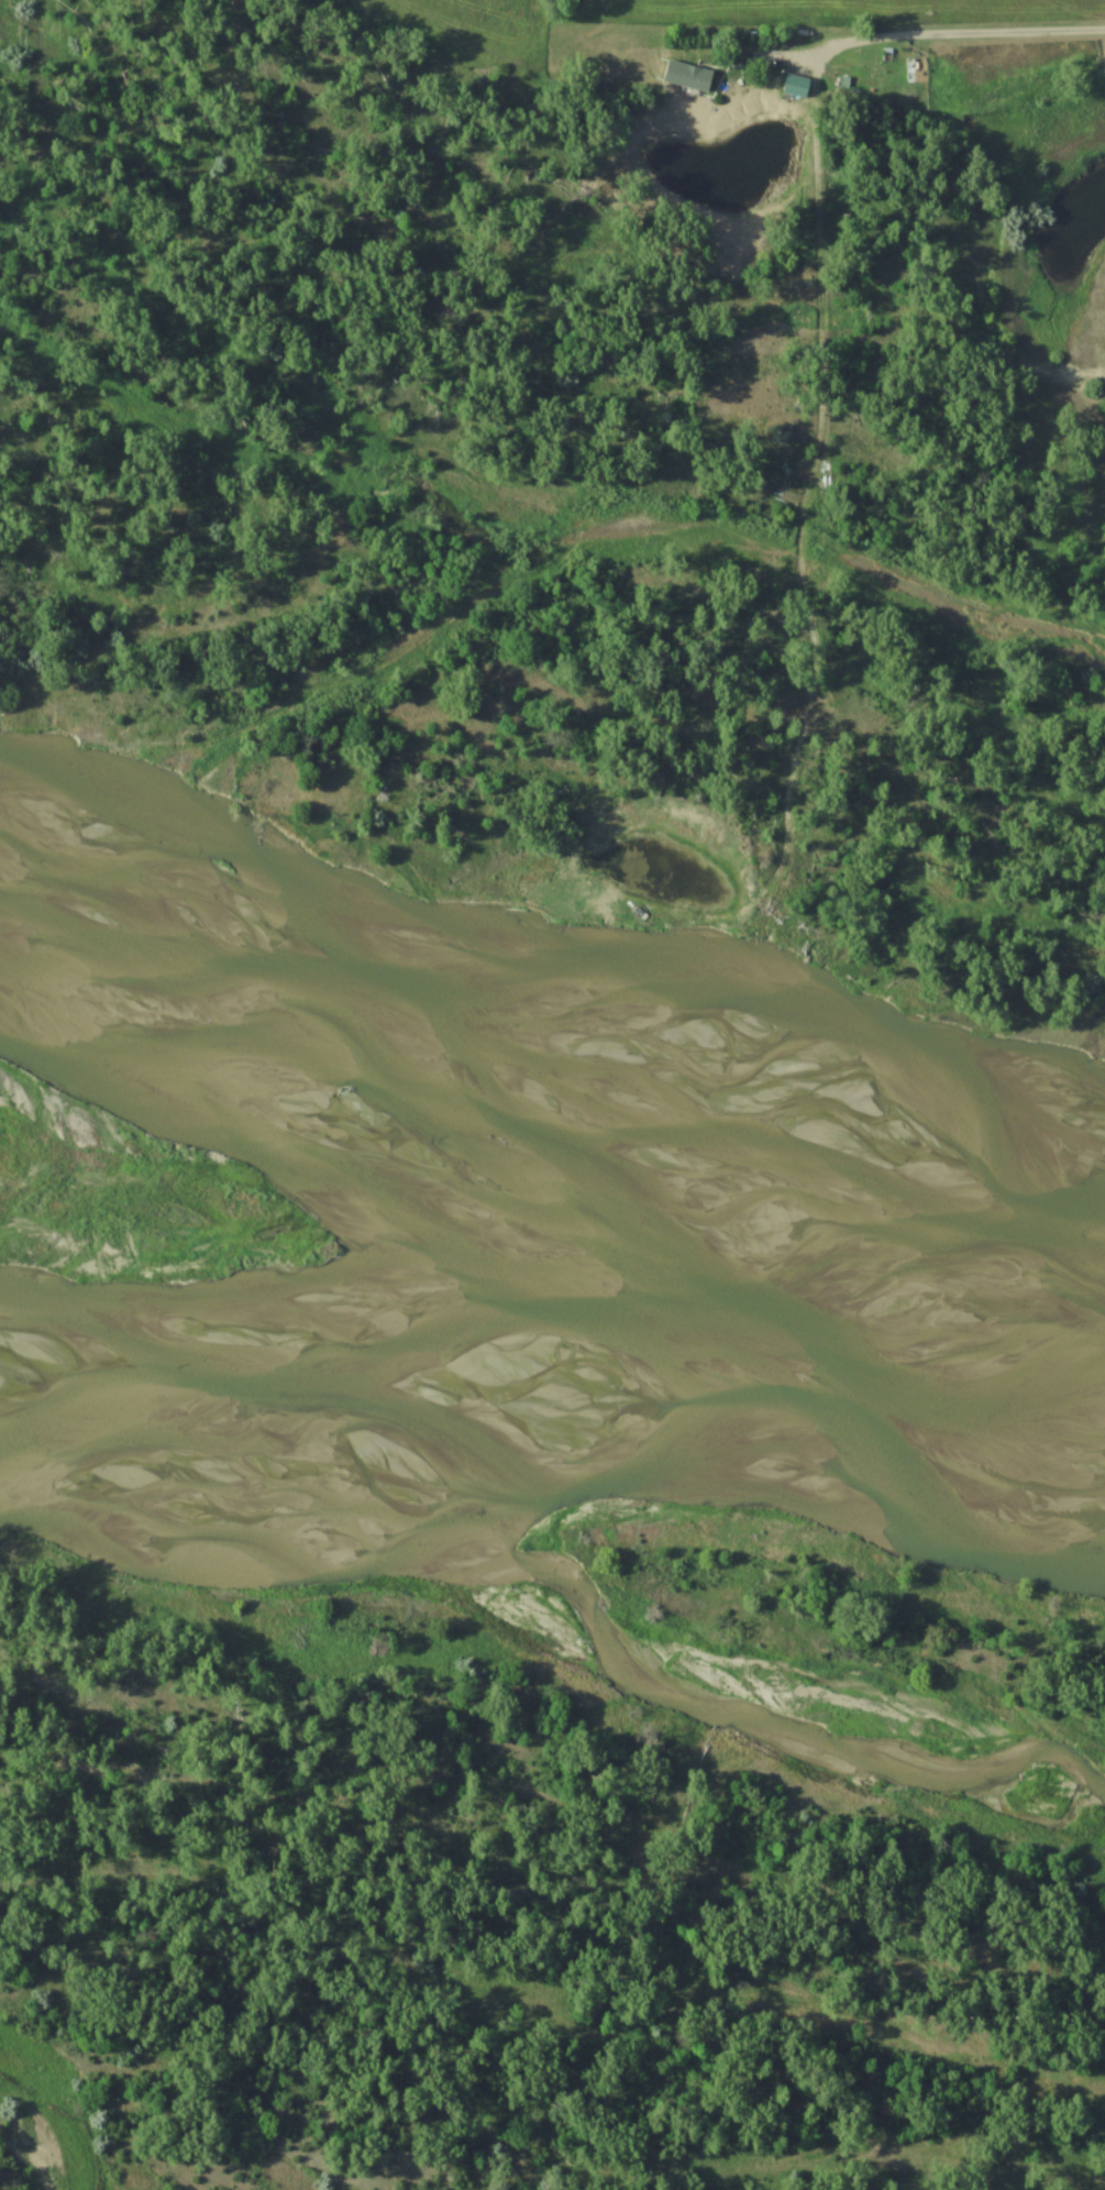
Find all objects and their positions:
road: (928, 38)
building: (690, 78)
building: (798, 87)
river: (553, 1092)

